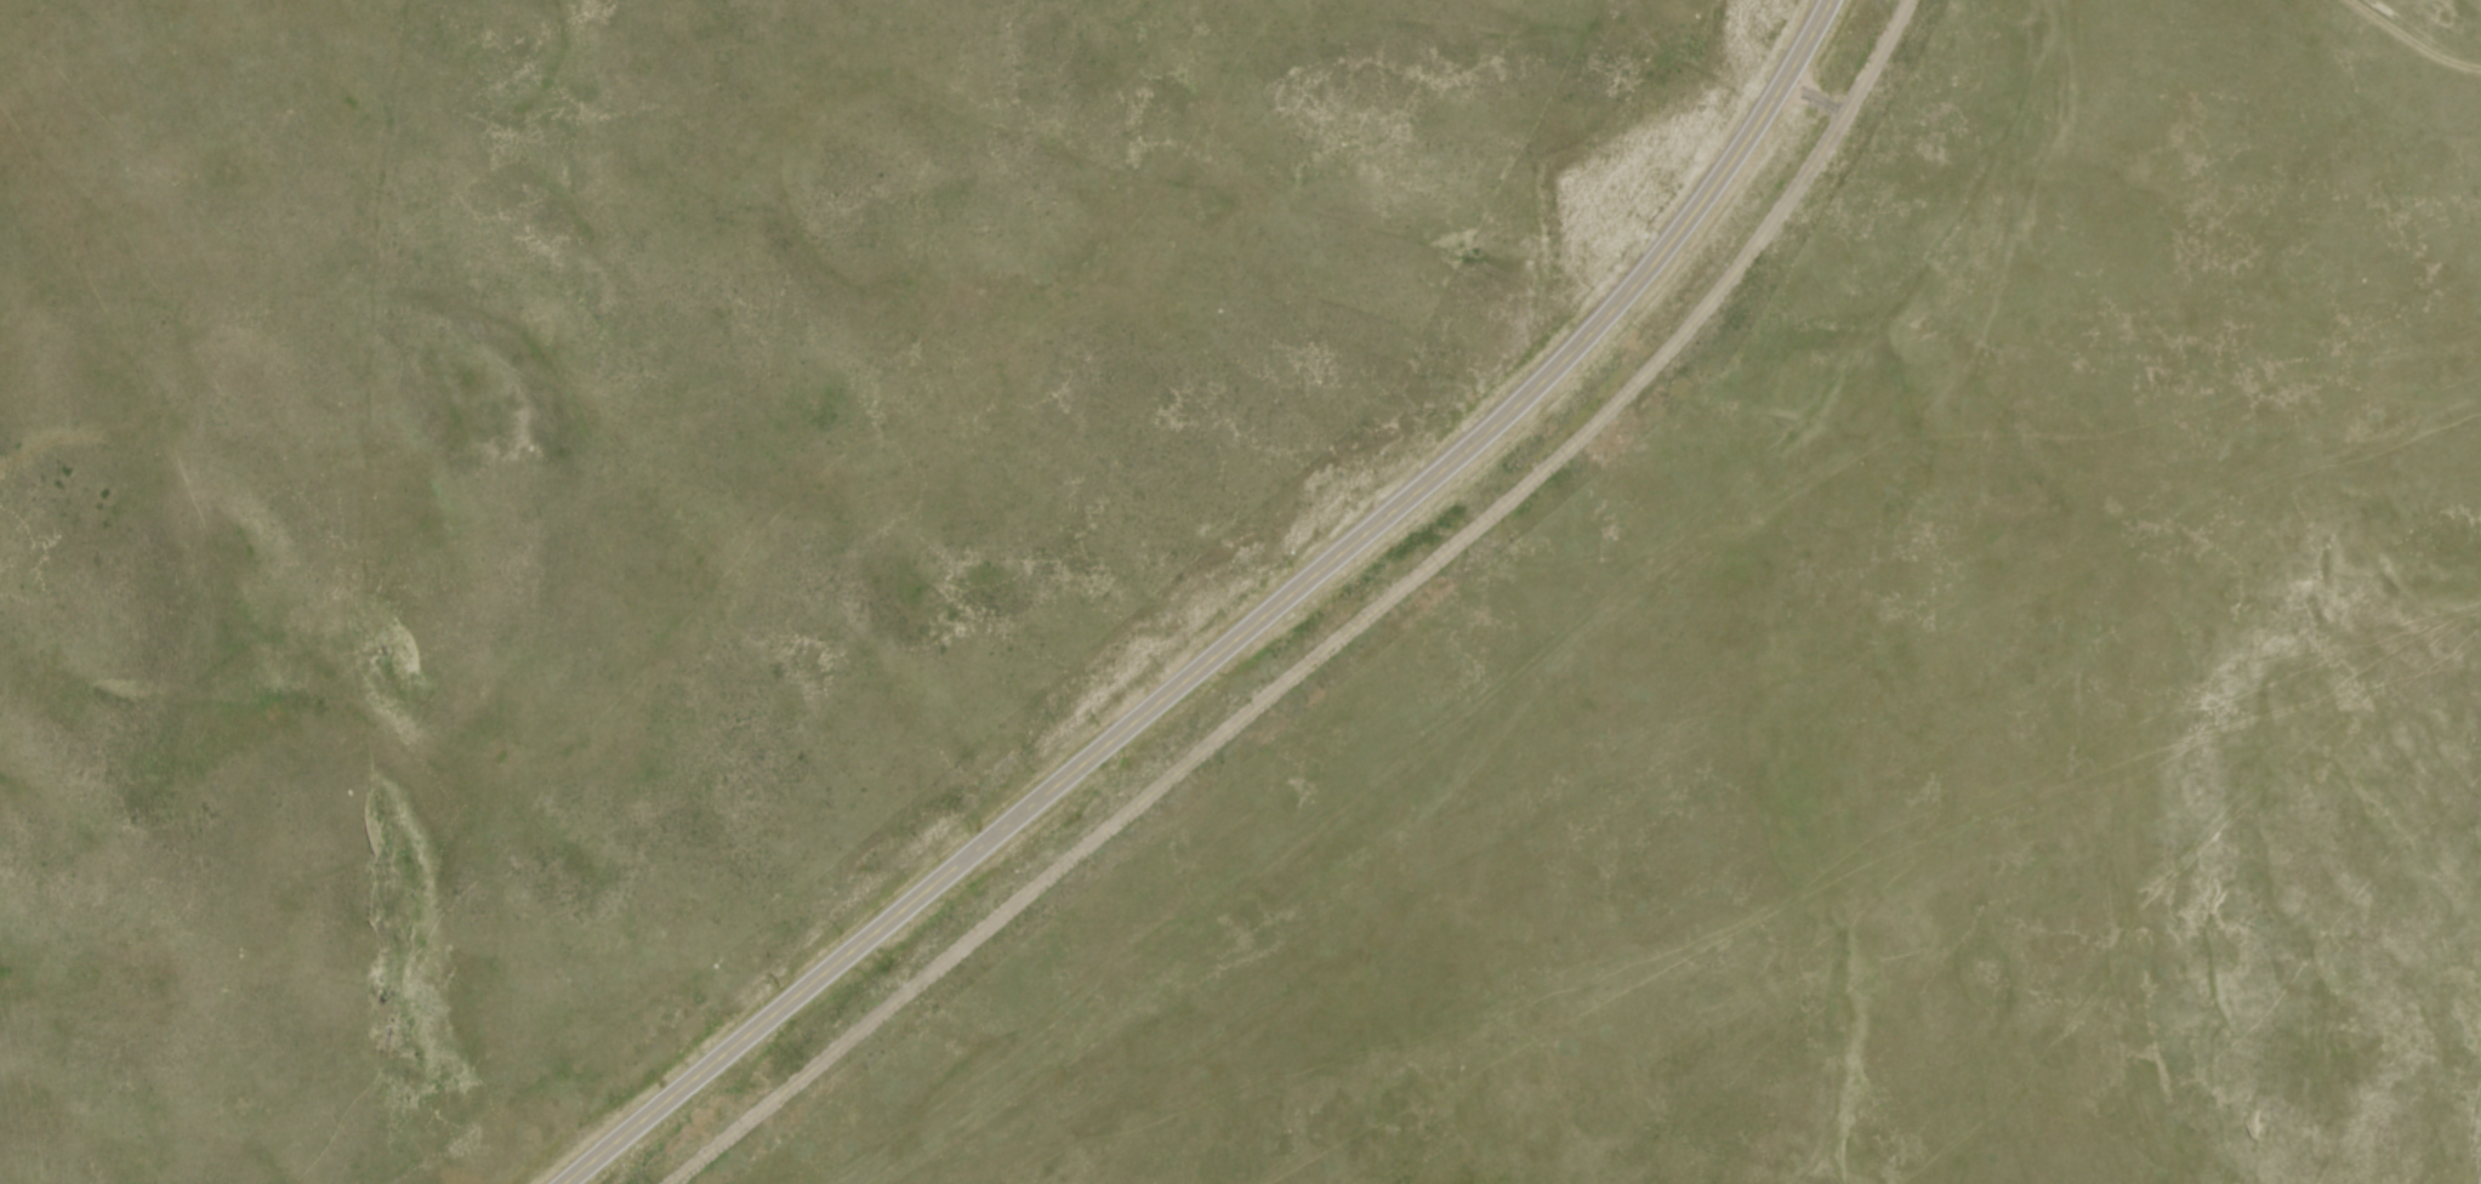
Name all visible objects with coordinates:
road: (1820, 87)
road: (1250, 634)
road: (1339, 637)

